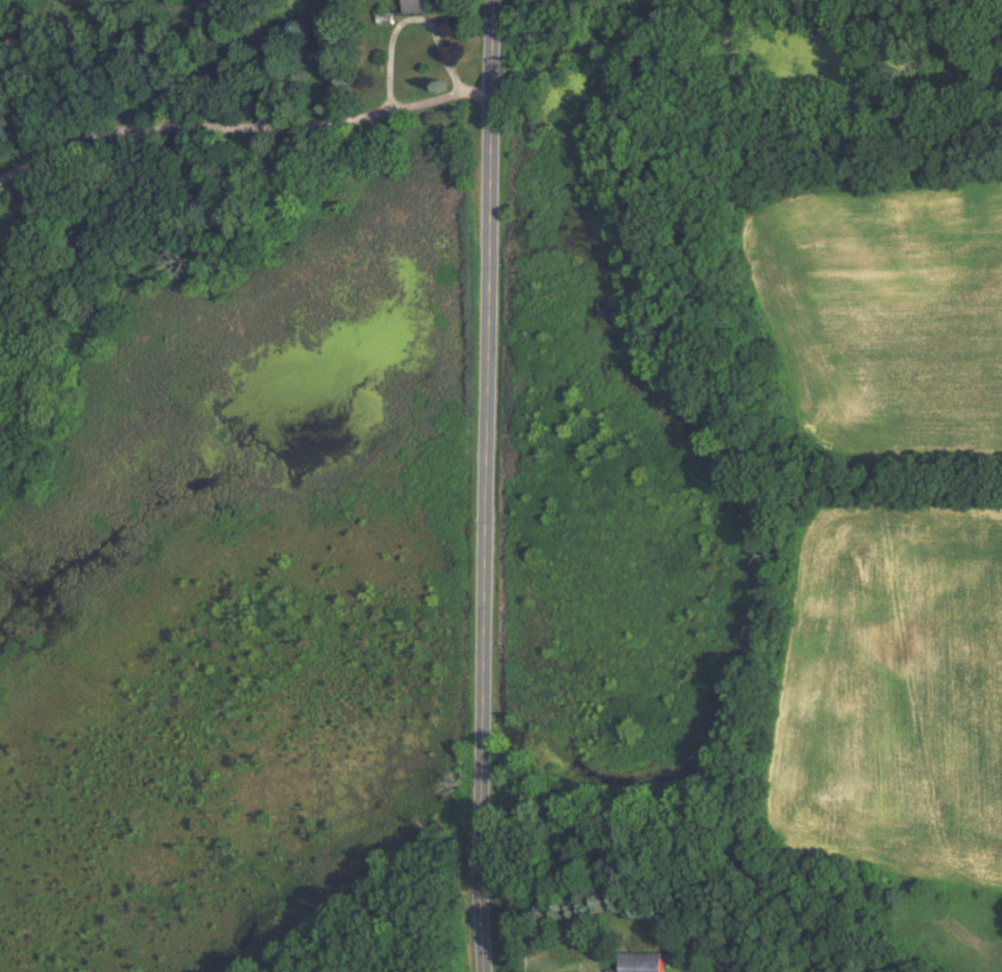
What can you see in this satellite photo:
building: (418, 6)
road: (407, 18)
road: (245, 132)
road: (490, 485)
building: (643, 962)

